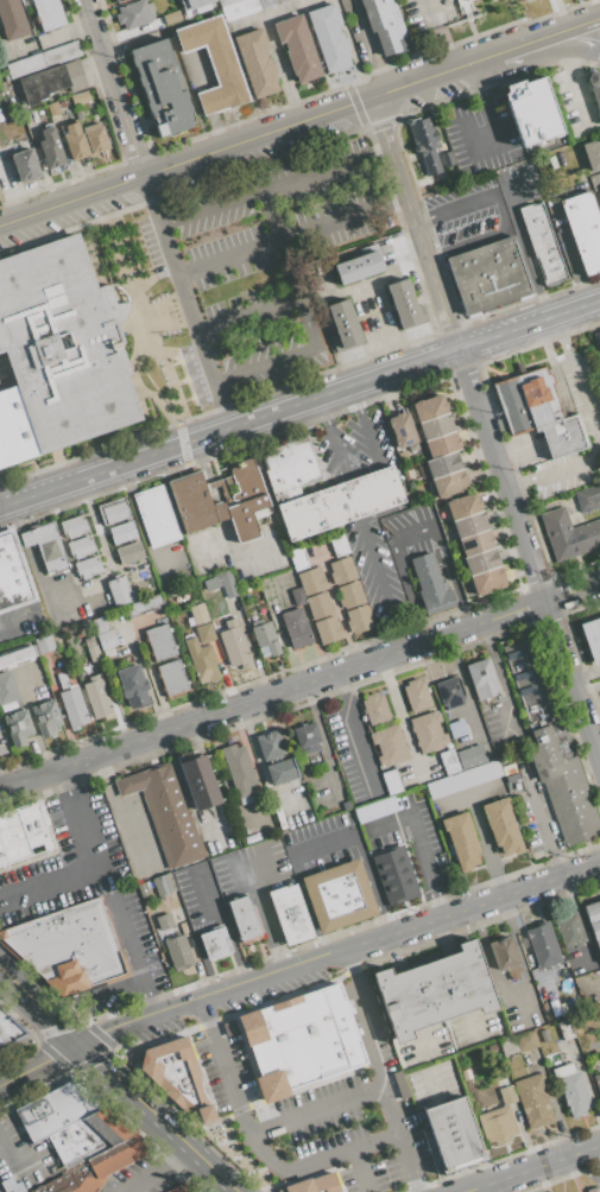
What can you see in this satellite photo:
building: (524, 0)
building: (118, 1)
building: (461, 1)
building: (192, 4)
building: (242, 7)
road: (431, 12)
building: (48, 13)
building: (134, 14)
building: (171, 18)
building: (12, 19)
building: (384, 25)
road: (568, 28)
building: (328, 37)
road: (370, 45)
road: (446, 45)
building: (297, 47)
road: (514, 47)
road: (545, 53)
building: (43, 59)
road: (473, 61)
building: (214, 63)
building: (255, 63)
building: (74, 75)
road: (476, 80)
building: (42, 84)
building: (162, 87)
road: (573, 87)
building: (594, 87)
road: (114, 88)
building: (80, 97)
building: (62, 103)
building: (52, 108)
building: (531, 110)
building: (77, 114)
building: (42, 115)
road: (299, 122)
building: (95, 137)
building: (75, 141)
building: (425, 144)
building: (50, 147)
road: (495, 147)
building: (592, 153)
building: (448, 159)
building: (24, 166)
road: (273, 185)
building: (598, 197)
road: (393, 199)
road: (71, 201)
road: (503, 209)
parking lot: (65, 214)
road: (271, 214)
road: (419, 216)
building: (583, 229)
road: (279, 237)
parking lot: (264, 242)
building: (543, 242)
road: (519, 246)
road: (434, 254)
building: (358, 267)
road: (576, 268)
building: (488, 274)
road: (187, 303)
building: (404, 303)
road: (303, 321)
building: (345, 323)
building: (599, 337)
building: (59, 351)
road: (355, 399)
road: (299, 404)
road: (323, 411)
building: (537, 411)
building: (436, 425)
road: (485, 429)
road: (595, 429)
building: (402, 432)
road: (368, 437)
road: (335, 448)
building: (599, 464)
building: (412, 473)
building: (446, 474)
road: (384, 483)
building: (322, 490)
road: (350, 494)
building: (587, 497)
building: (192, 501)
building: (113, 511)
road: (375, 511)
building: (156, 515)
building: (72, 527)
road: (413, 530)
building: (122, 533)
building: (568, 535)
building: (475, 544)
building: (339, 545)
building: (45, 546)
building: (80, 547)
building: (130, 553)
building: (298, 559)
building: (87, 568)
building: (341, 570)
building: (13, 573)
building: (311, 582)
road: (380, 582)
building: (430, 584)
building: (227, 585)
road: (580, 589)
building: (119, 590)
building: (349, 595)
building: (297, 596)
building: (144, 605)
building: (318, 605)
building: (197, 614)
road: (11, 619)
building: (359, 620)
building: (295, 628)
building: (327, 629)
building: (204, 633)
building: (264, 638)
building: (592, 638)
building: (107, 642)
building: (160, 642)
building: (44, 643)
building: (233, 643)
building: (91, 649)
building: (18, 657)
building: (201, 661)
building: (171, 677)
road: (500, 678)
building: (481, 679)
building: (133, 686)
building: (7, 687)
road: (341, 689)
building: (450, 692)
road: (280, 693)
building: (416, 695)
building: (96, 697)
building: (72, 708)
building: (375, 709)
building: (46, 717)
building: (18, 727)
building: (428, 731)
building: (456, 734)
building: (482, 735)
building: (307, 737)
building: (271, 744)
building: (389, 744)
building: (552, 746)
road: (361, 748)
road: (44, 754)
building: (470, 756)
building: (448, 761)
building: (509, 768)
building: (240, 772)
building: (279, 772)
building: (511, 778)
building: (463, 779)
road: (70, 780)
building: (197, 780)
building: (391, 781)
building: (346, 805)
building: (374, 809)
building: (163, 811)
road: (116, 813)
road: (418, 825)
building: (501, 825)
building: (23, 833)
building: (461, 841)
road: (327, 845)
building: (384, 855)
road: (84, 870)
building: (390, 879)
building: (163, 885)
road: (373, 885)
parking lot: (87, 894)
building: (143, 894)
building: (337, 896)
road: (257, 899)
road: (443, 900)
road: (221, 909)
building: (289, 914)
building: (245, 918)
building: (163, 921)
building: (593, 921)
building: (569, 930)
road: (128, 937)
building: (215, 943)
building: (67, 944)
building: (542, 945)
road: (337, 950)
building: (178, 951)
road: (277, 956)
building: (504, 956)
road: (241, 966)
road: (350, 968)
road: (118, 989)
building: (434, 990)
road: (151, 996)
road: (39, 1007)
road: (207, 1017)
building: (7, 1029)
road: (367, 1038)
building: (304, 1041)
building: (526, 1041)
traffic signals: (80, 1045)
building: (507, 1047)
road: (39, 1064)
building: (179, 1078)
building: (598, 1079)
building: (571, 1089)
building: (507, 1093)
building: (533, 1099)
road: (311, 1109)
road: (389, 1109)
road: (233, 1111)
road: (158, 1118)
building: (498, 1126)
building: (453, 1133)
road: (354, 1146)
building: (97, 1156)
road: (8, 1161)
road: (530, 1167)
road: (359, 1169)
road: (157, 1171)
road: (411, 1179)
building: (316, 1184)
building: (181, 1188)
building: (593, 1190)

